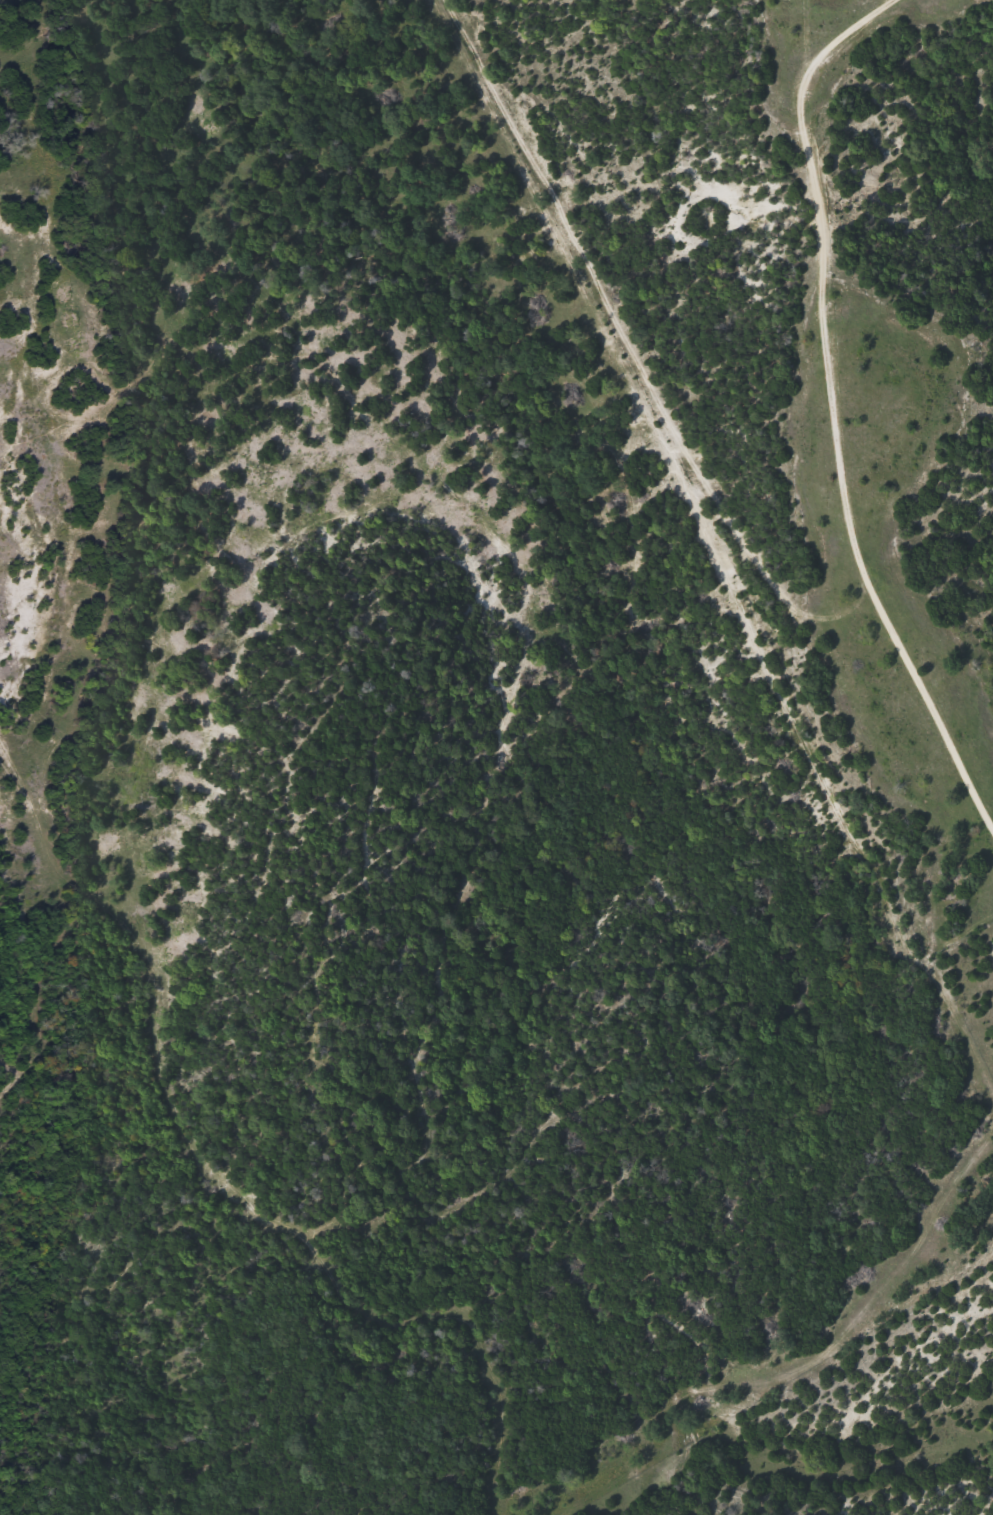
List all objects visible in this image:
road: (838, 410)

